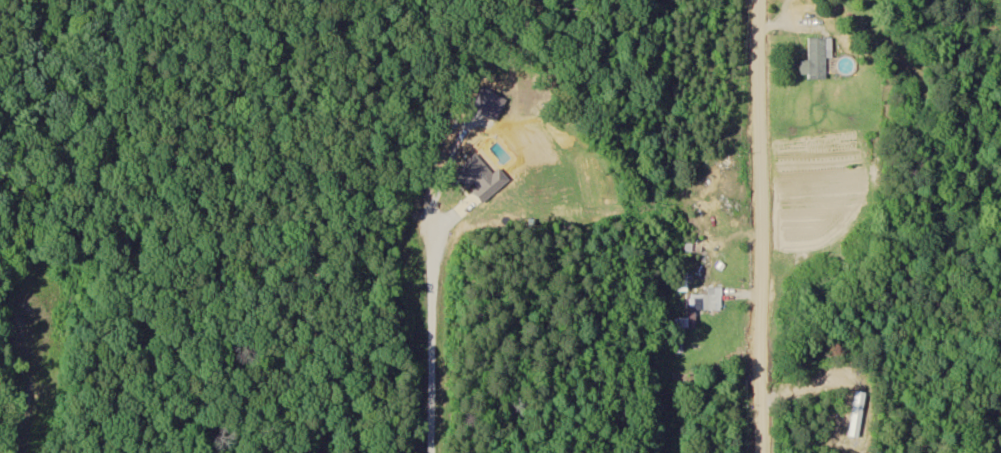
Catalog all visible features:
building: (815, 60)
road: (761, 226)
building: (680, 282)
building: (696, 309)

